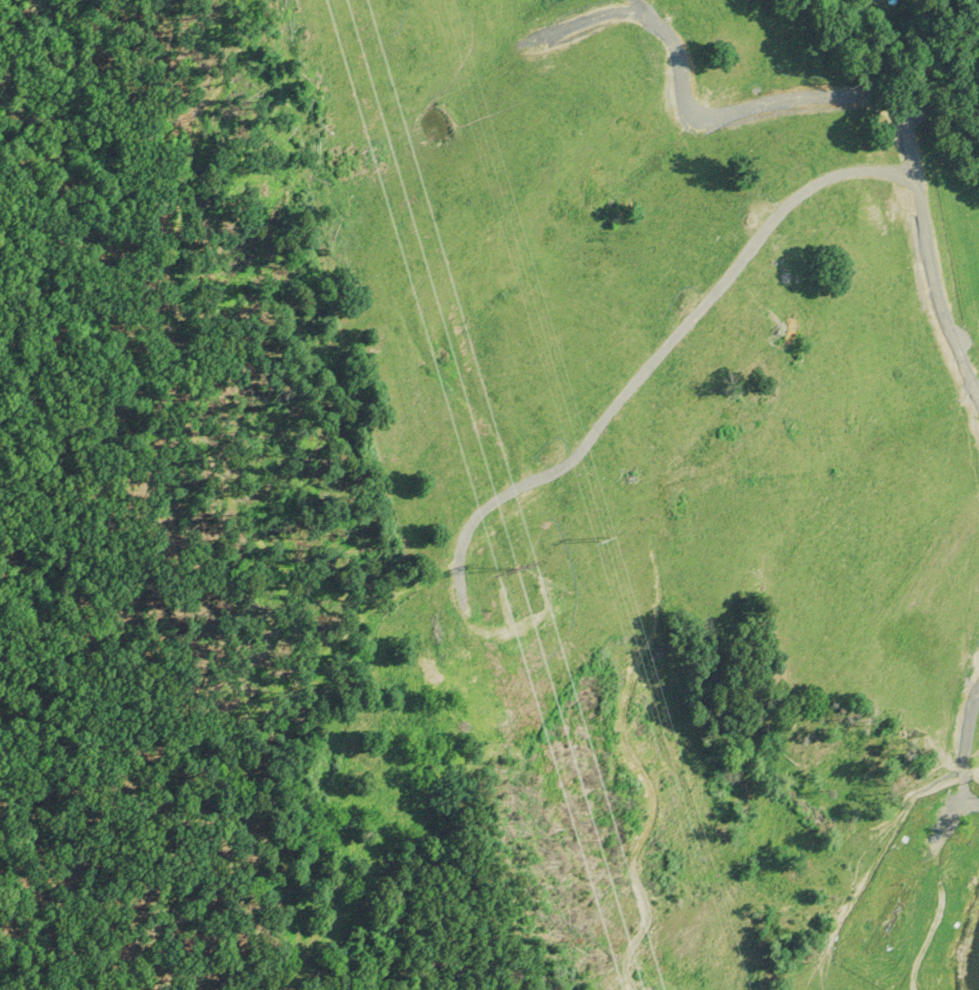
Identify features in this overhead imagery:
power tower: (610, 536)
power tower: (515, 568)
building: (898, 918)

